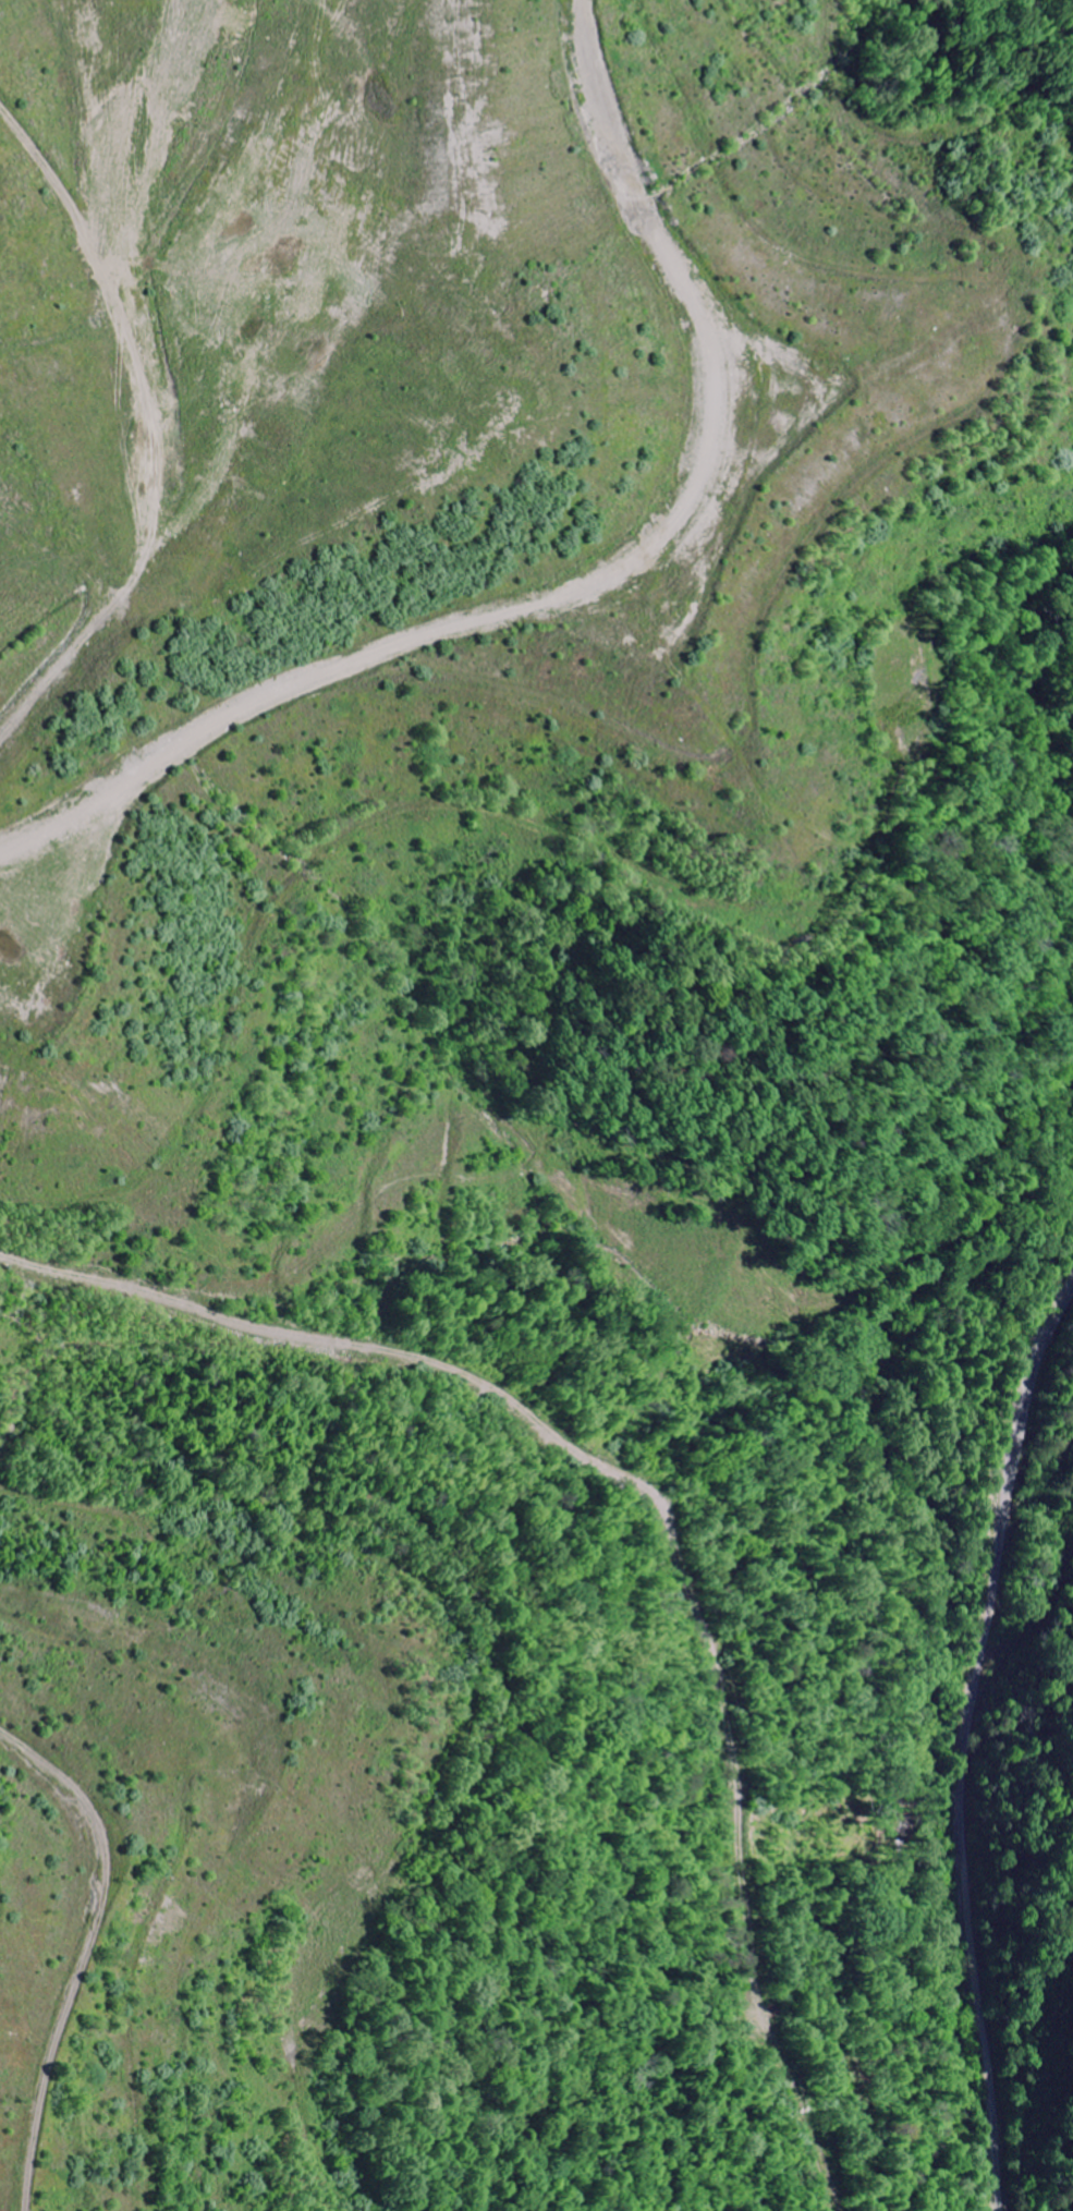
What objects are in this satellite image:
quarry: (471, 848)

